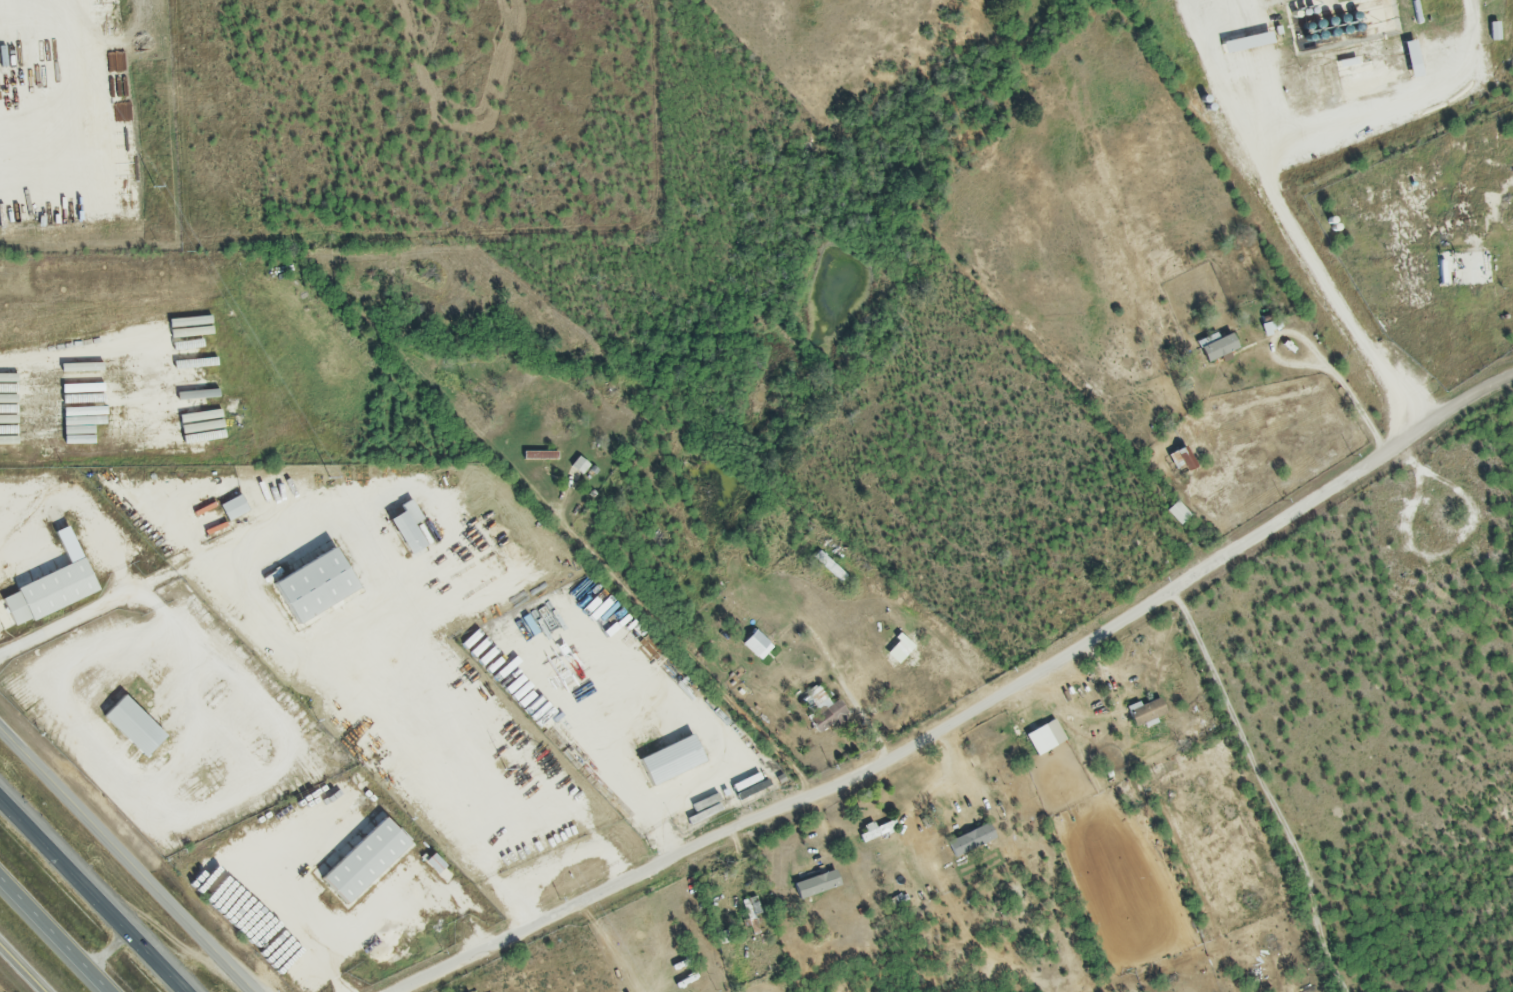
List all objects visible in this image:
road: (1223, 86)
road: (1402, 115)
power tower: (152, 183)
road: (1338, 301)
building: (1509, 304)
building: (1221, 348)
road: (1315, 350)
road: (64, 372)
building: (1182, 460)
building: (577, 467)
power tower: (327, 477)
building: (1176, 514)
building: (16, 533)
road: (124, 591)
building: (753, 644)
road: (684, 653)
road: (64, 662)
building: (852, 668)
road: (847, 693)
road: (972, 709)
building: (821, 712)
building: (1144, 714)
road: (197, 724)
building: (1041, 735)
road: (615, 759)
power tower: (503, 763)
road: (958, 771)
road: (1263, 789)
building: (874, 828)
building: (967, 838)
road: (132, 854)
building: (814, 887)
road: (95, 892)
road: (394, 912)
road: (55, 933)
road: (603, 948)
road: (110, 949)
road: (18, 972)

